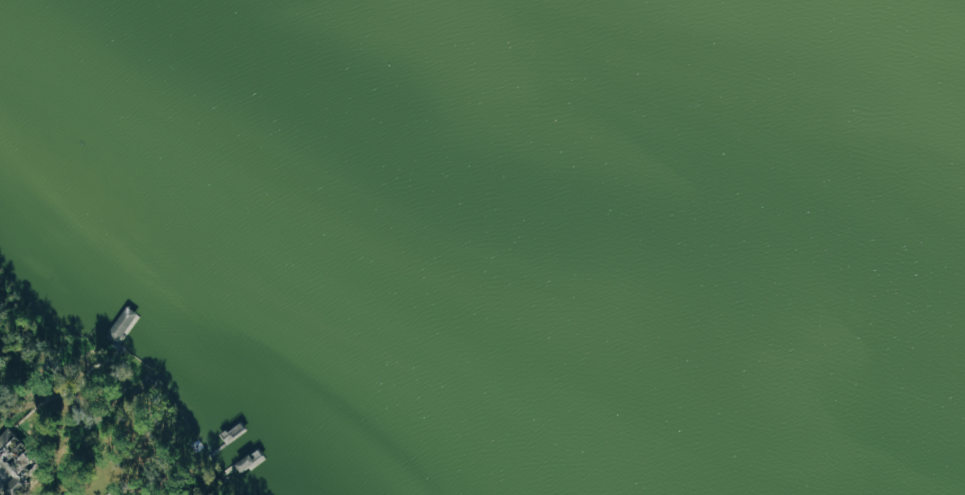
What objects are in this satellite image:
river: (825, 103)
building: (31, 457)

